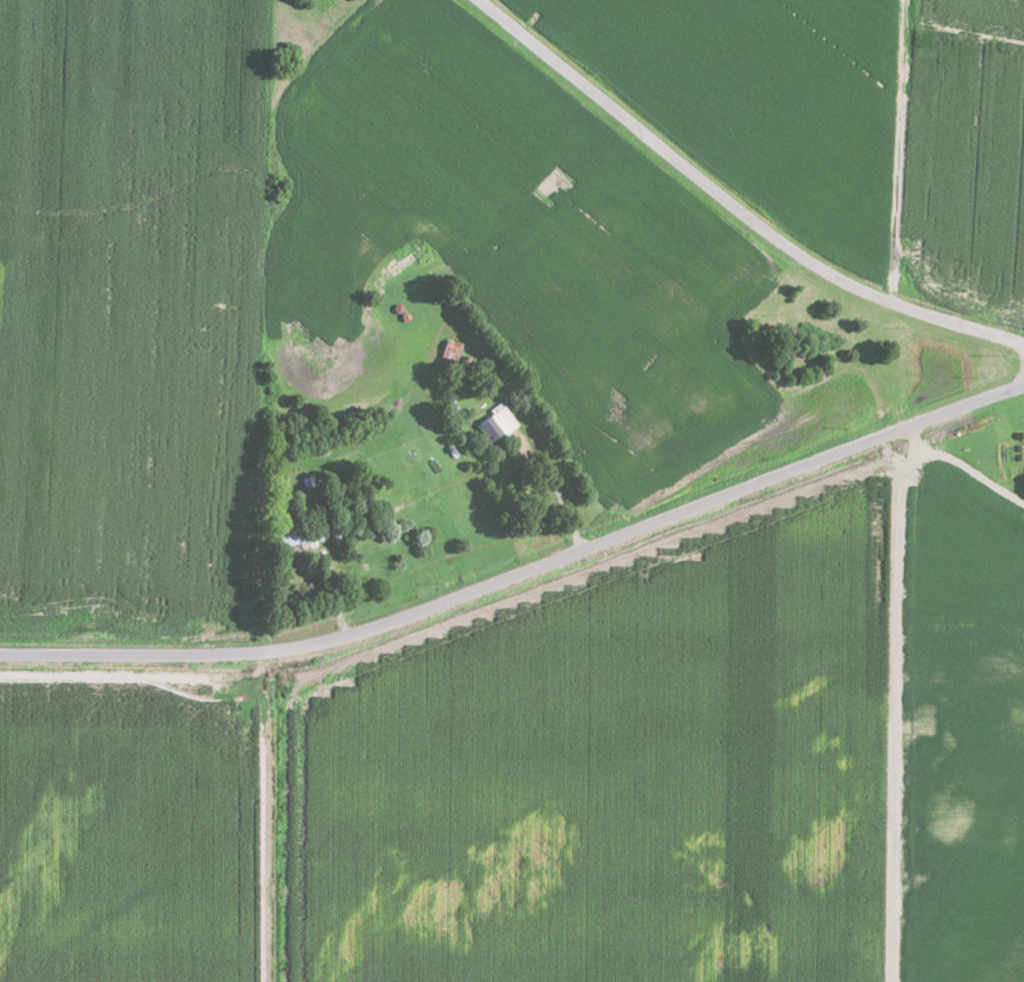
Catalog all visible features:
road: (731, 205)
building: (454, 349)
building: (500, 424)
building: (294, 538)
road: (522, 571)

